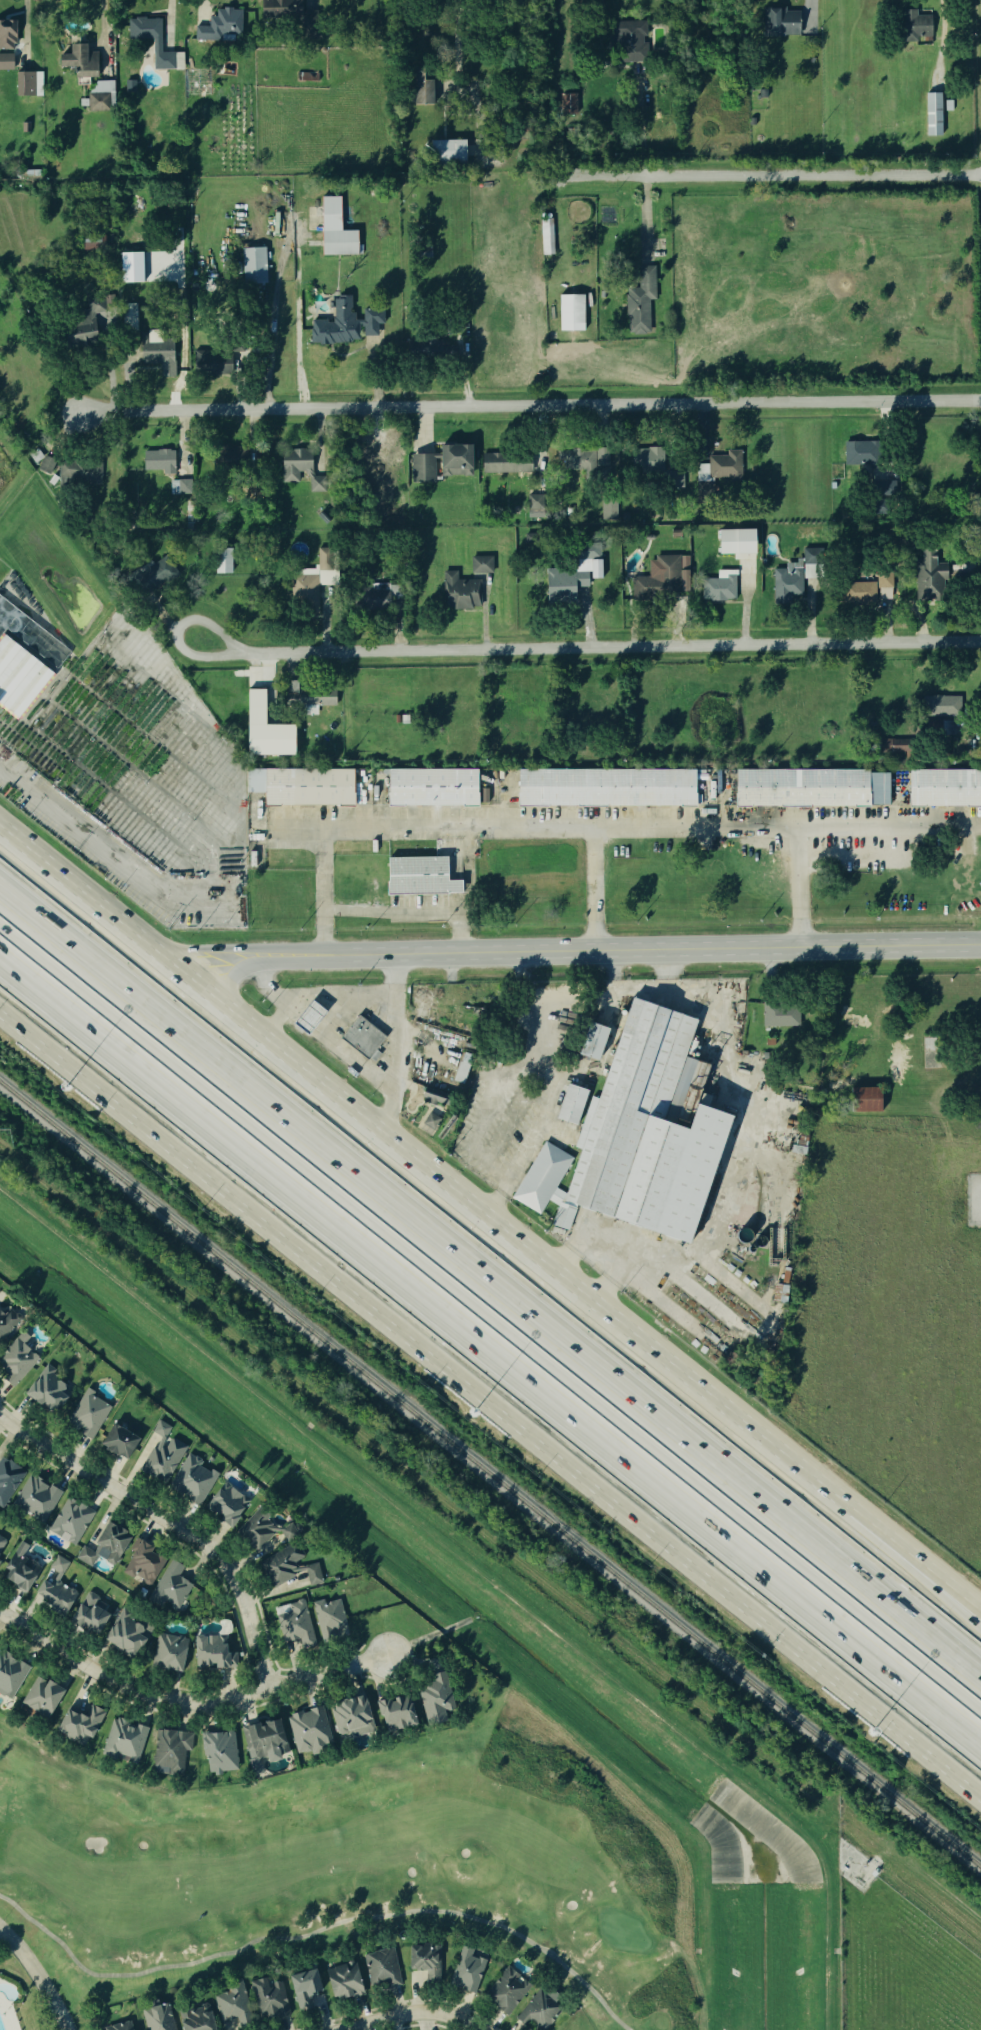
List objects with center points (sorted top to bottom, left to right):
building: (279, 10)
road: (168, 23)
building: (781, 24)
building: (219, 25)
building: (917, 29)
road: (944, 30)
road: (29, 31)
road: (106, 41)
building: (630, 42)
building: (158, 45)
road: (458, 51)
building: (78, 61)
building: (7, 62)
building: (26, 84)
building: (130, 86)
building: (421, 91)
building: (763, 94)
building: (99, 102)
building: (569, 104)
building: (934, 114)
road: (646, 121)
building: (752, 122)
building: (448, 154)
road: (773, 175)
road: (646, 216)
building: (333, 231)
building: (547, 235)
building: (255, 266)
building: (132, 267)
building: (639, 303)
building: (572, 312)
road: (272, 316)
building: (87, 323)
building: (345, 325)
building: (157, 357)
building: (210, 364)
road: (530, 405)
building: (858, 453)
building: (225, 457)
building: (648, 461)
building: (42, 462)
building: (158, 462)
building: (582, 462)
building: (507, 463)
building: (439, 464)
building: (720, 468)
building: (300, 471)
building: (79, 473)
building: (532, 506)
building: (607, 510)
building: (325, 517)
building: (734, 542)
building: (224, 561)
building: (480, 565)
building: (596, 568)
building: (664, 576)
building: (928, 578)
building: (790, 579)
building: (310, 581)
building: (884, 586)
building: (718, 587)
building: (860, 592)
building: (460, 593)
building: (374, 596)
road: (482, 602)
road: (401, 603)
road: (657, 609)
road: (588, 610)
road: (891, 620)
road: (489, 622)
road: (749, 626)
road: (178, 630)
road: (611, 646)
building: (23, 659)
building: (307, 697)
building: (941, 707)
building: (397, 718)
building: (405, 719)
building: (946, 728)
building: (262, 730)
building: (898, 746)
building: (434, 787)
building: (310, 788)
building: (607, 788)
building: (803, 788)
building: (945, 788)
building: (482, 796)
road: (589, 827)
building: (418, 877)
road: (801, 886)
road: (595, 889)
road: (410, 910)
road: (585, 951)
road: (287, 996)
gas station: (304, 1015)
building: (779, 1022)
road: (325, 1029)
building: (360, 1036)
road: (393, 1040)
building: (594, 1041)
road: (959, 1063)
road: (938, 1065)
road: (546, 1086)
building: (423, 1099)
building: (867, 1099)
building: (572, 1104)
building: (429, 1122)
road: (399, 1136)
building: (542, 1178)
building: (564, 1216)
road: (490, 1291)
building: (7, 1322)
road: (490, 1342)
building: (16, 1360)
building: (46, 1390)
road: (492, 1403)
building: (87, 1414)
building: (117, 1442)
building: (161, 1453)
railway: (490, 1476)
building: (8, 1479)
building: (191, 1479)
building: (35, 1499)
building: (225, 1504)
road: (169, 1520)
building: (69, 1521)
road: (889, 1526)
railway: (491, 1538)
road: (889, 1538)
building: (2, 1544)
building: (103, 1546)
building: (276, 1551)
building: (141, 1563)
building: (18, 1570)
building: (53, 1587)
building: (170, 1587)
building: (88, 1614)
building: (327, 1618)
building: (295, 1626)
building: (123, 1634)
building: (166, 1652)
building: (210, 1653)
building: (9, 1675)
building: (40, 1697)
road: (188, 1700)
building: (432, 1700)
building: (394, 1713)
building: (350, 1716)
building: (77, 1724)
building: (308, 1731)
building: (123, 1741)
building: (259, 1743)
building: (169, 1751)
building: (218, 1752)
park: (345, 1868)
road: (318, 1927)
building: (422, 1965)
building: (381, 1969)
building: (466, 1971)
road: (39, 1976)
building: (341, 1982)
building: (302, 1989)
building: (505, 1992)
park: (20, 1997)
building: (268, 1998)
building: (231, 2005)
building: (538, 2009)
road: (406, 2015)
building: (156, 2018)
building: (192, 2019)
building: (118, 2026)
road: (468, 2026)

